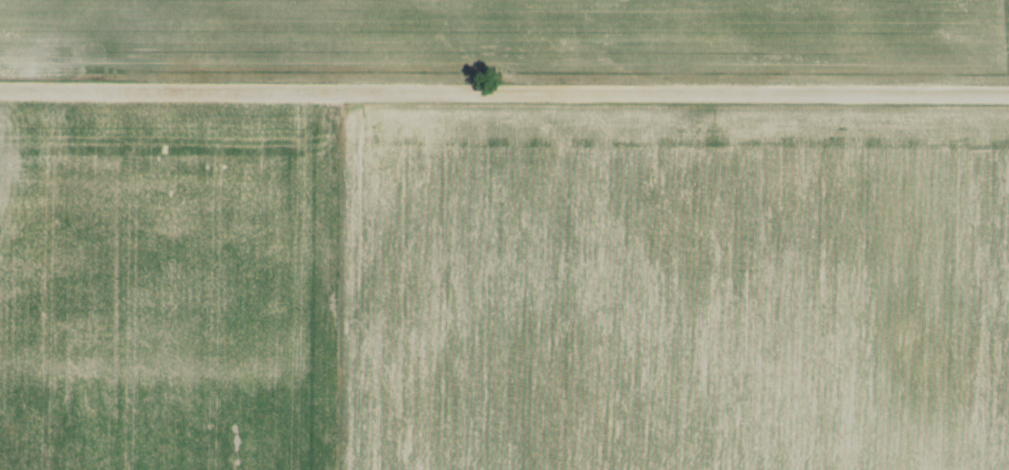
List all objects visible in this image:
road: (504, 92)

